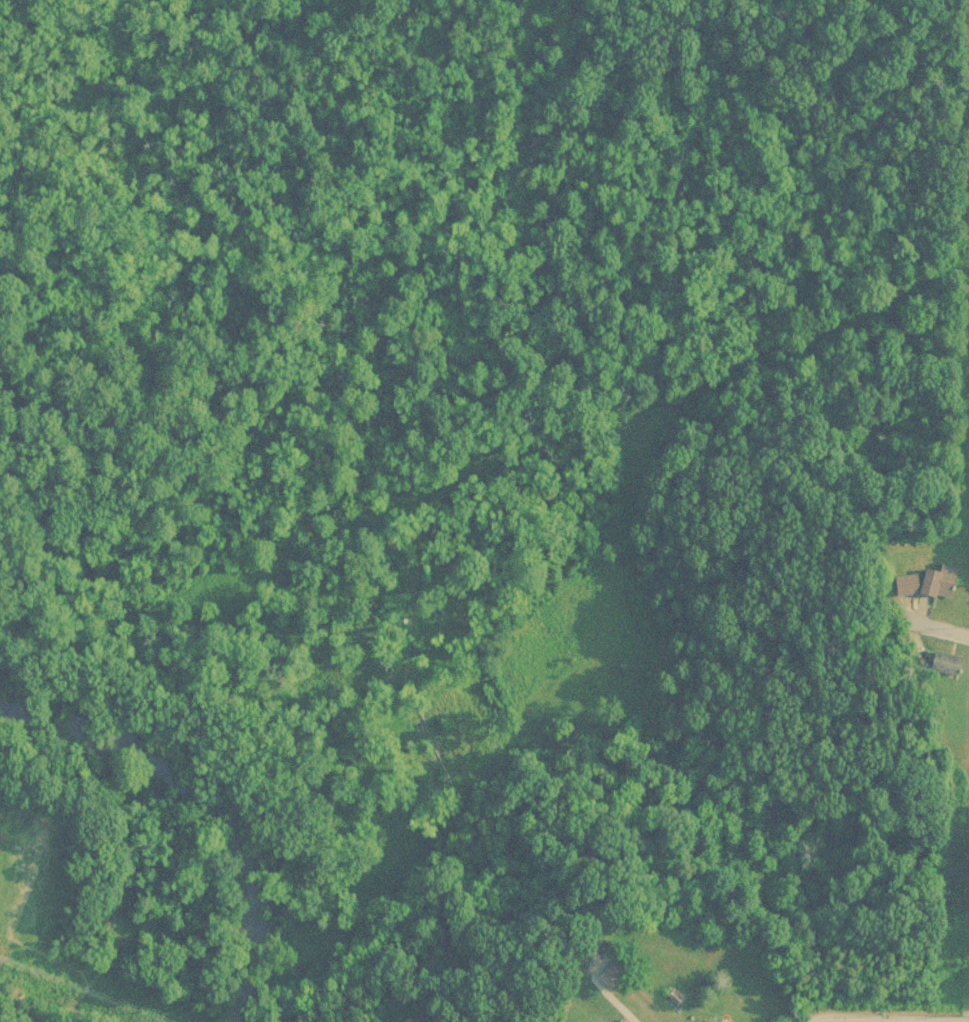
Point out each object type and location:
building: (944, 582)
building: (908, 587)
road: (956, 624)
road: (884, 1016)
building: (635, 1020)

